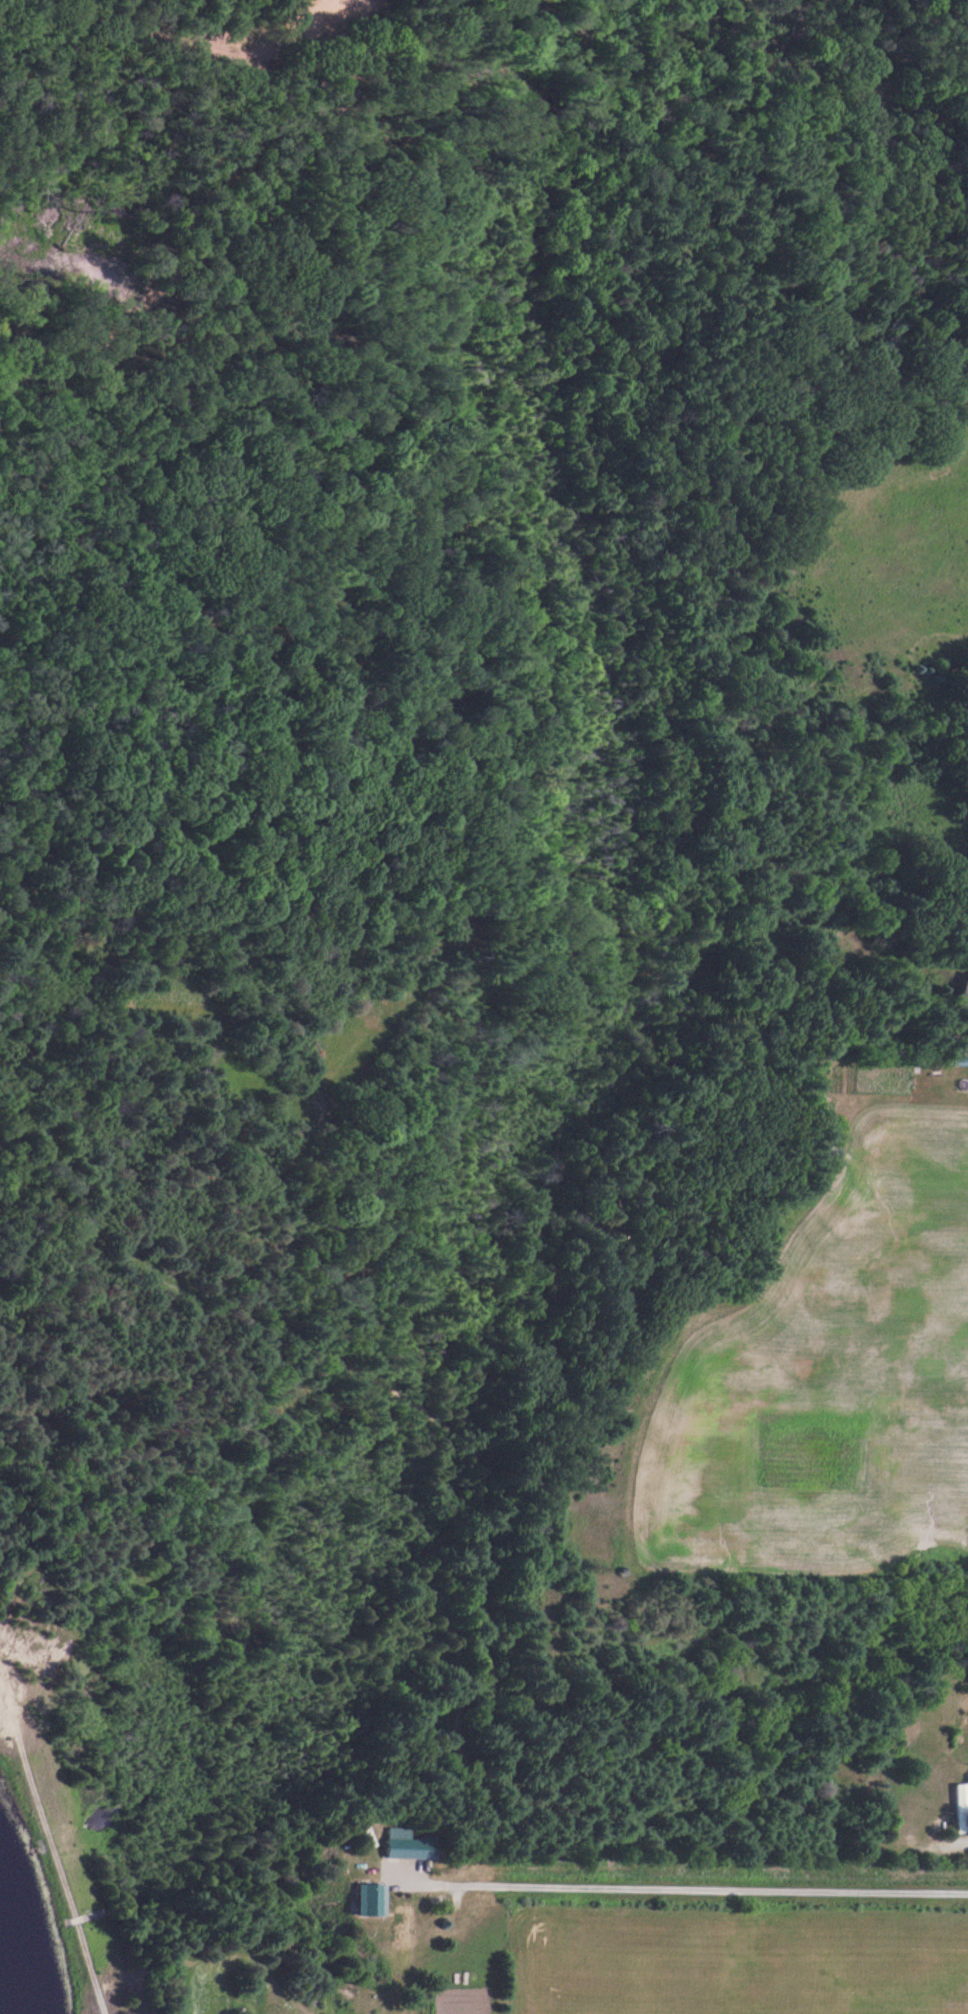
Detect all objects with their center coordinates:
road: (851, 104)
road: (946, 148)
building: (961, 988)
building: (960, 1805)
building: (399, 1842)
building: (365, 1898)

